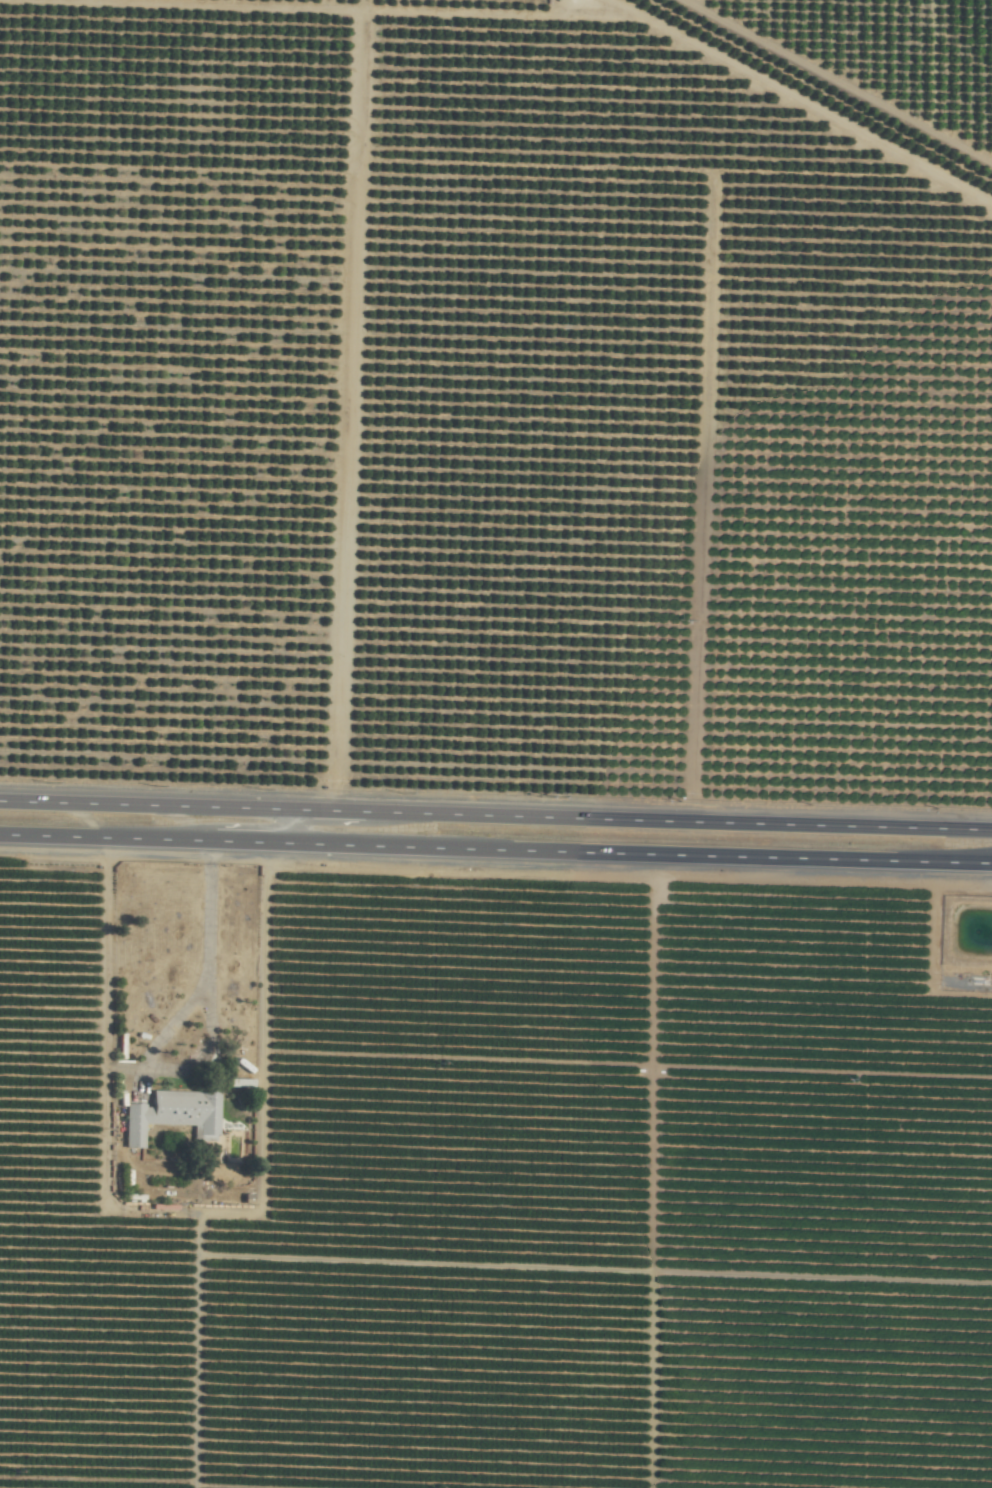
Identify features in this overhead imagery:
road: (837, 81)
road: (346, 422)
crop: (496, 744)
road: (495, 816)
road: (292, 828)
road: (495, 850)
road: (208, 1017)
building: (172, 1115)

